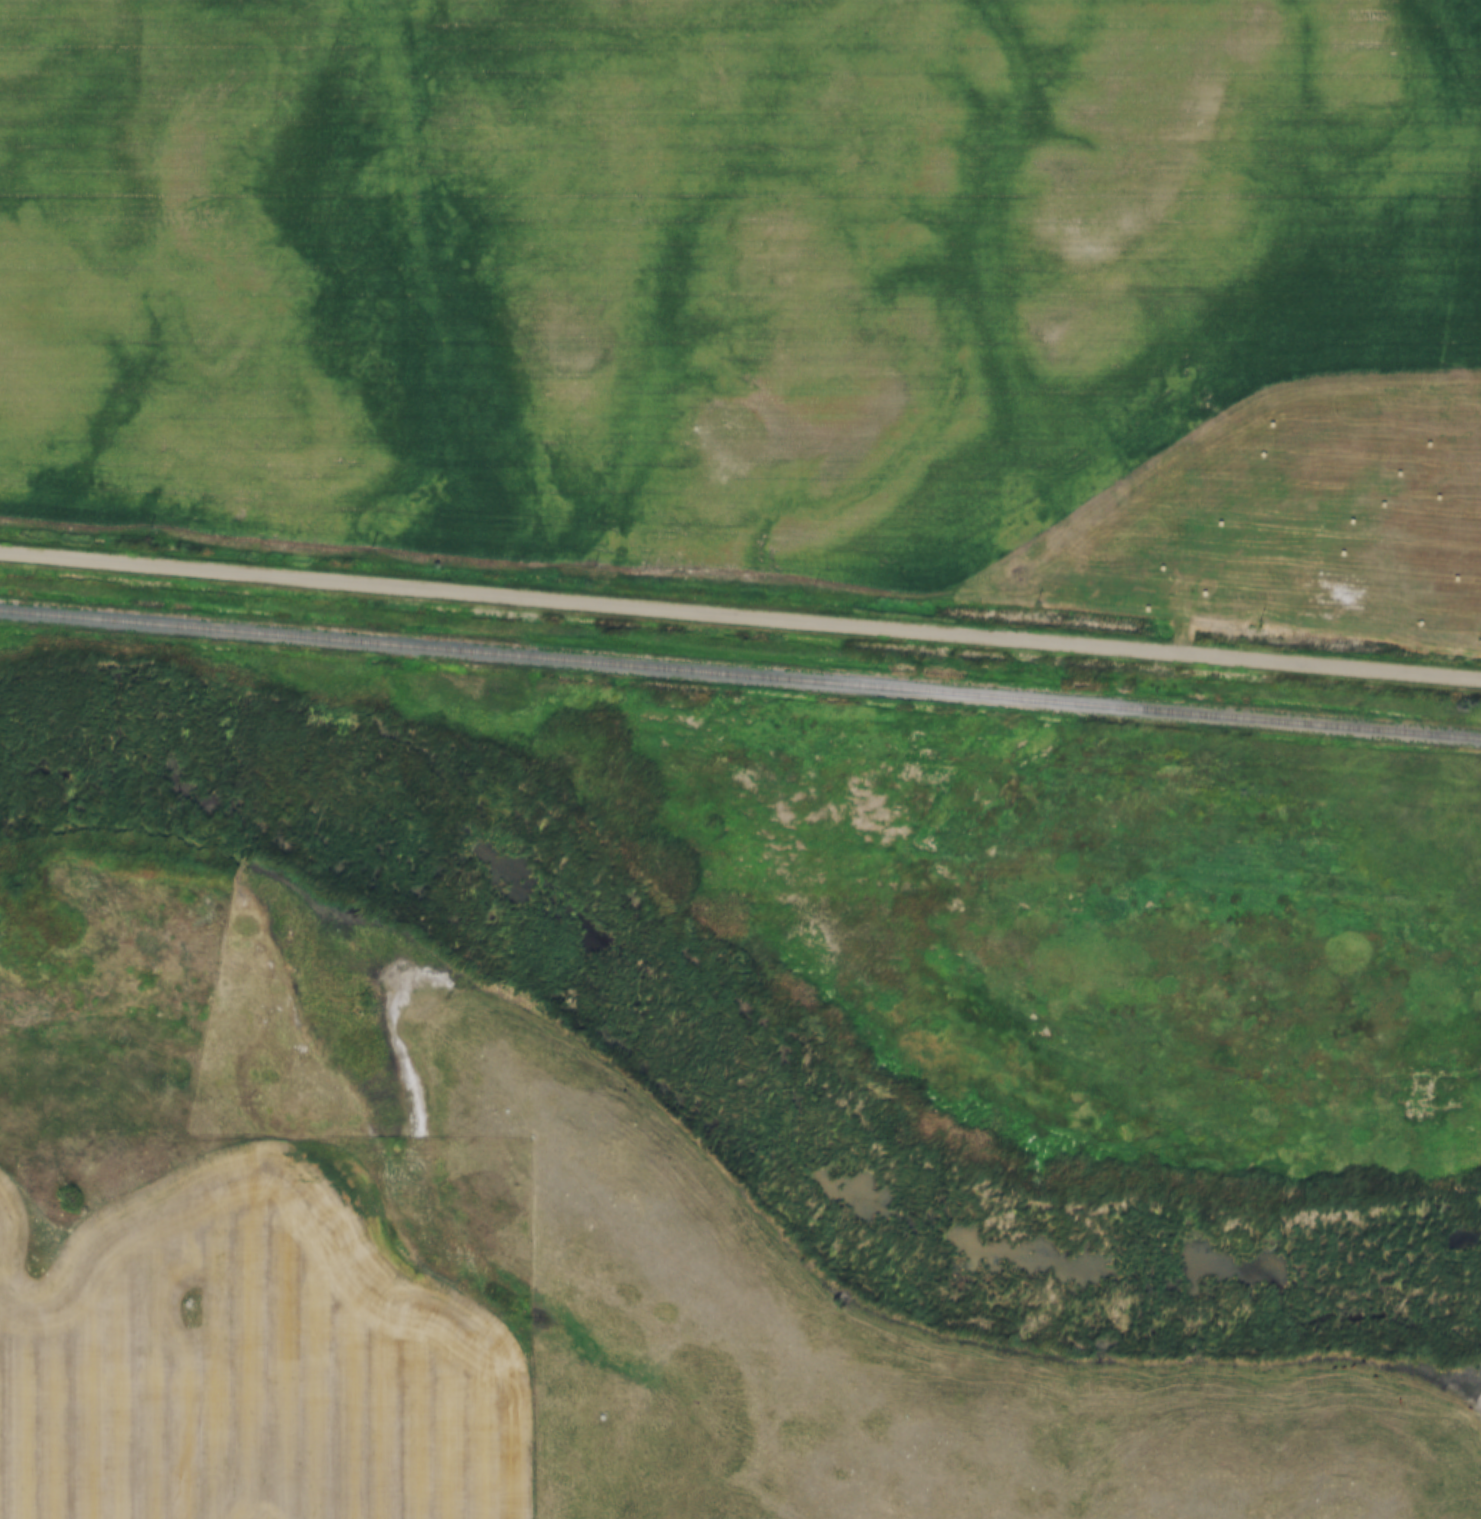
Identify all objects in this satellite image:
road: (739, 622)
railway: (740, 670)

